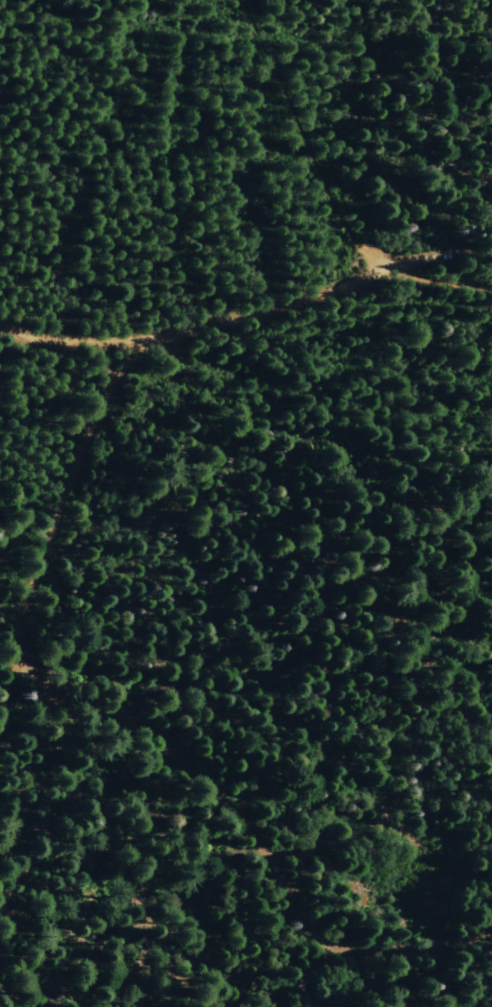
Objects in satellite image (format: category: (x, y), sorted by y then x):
road: (313, 133)
road: (249, 315)
road: (48, 486)

